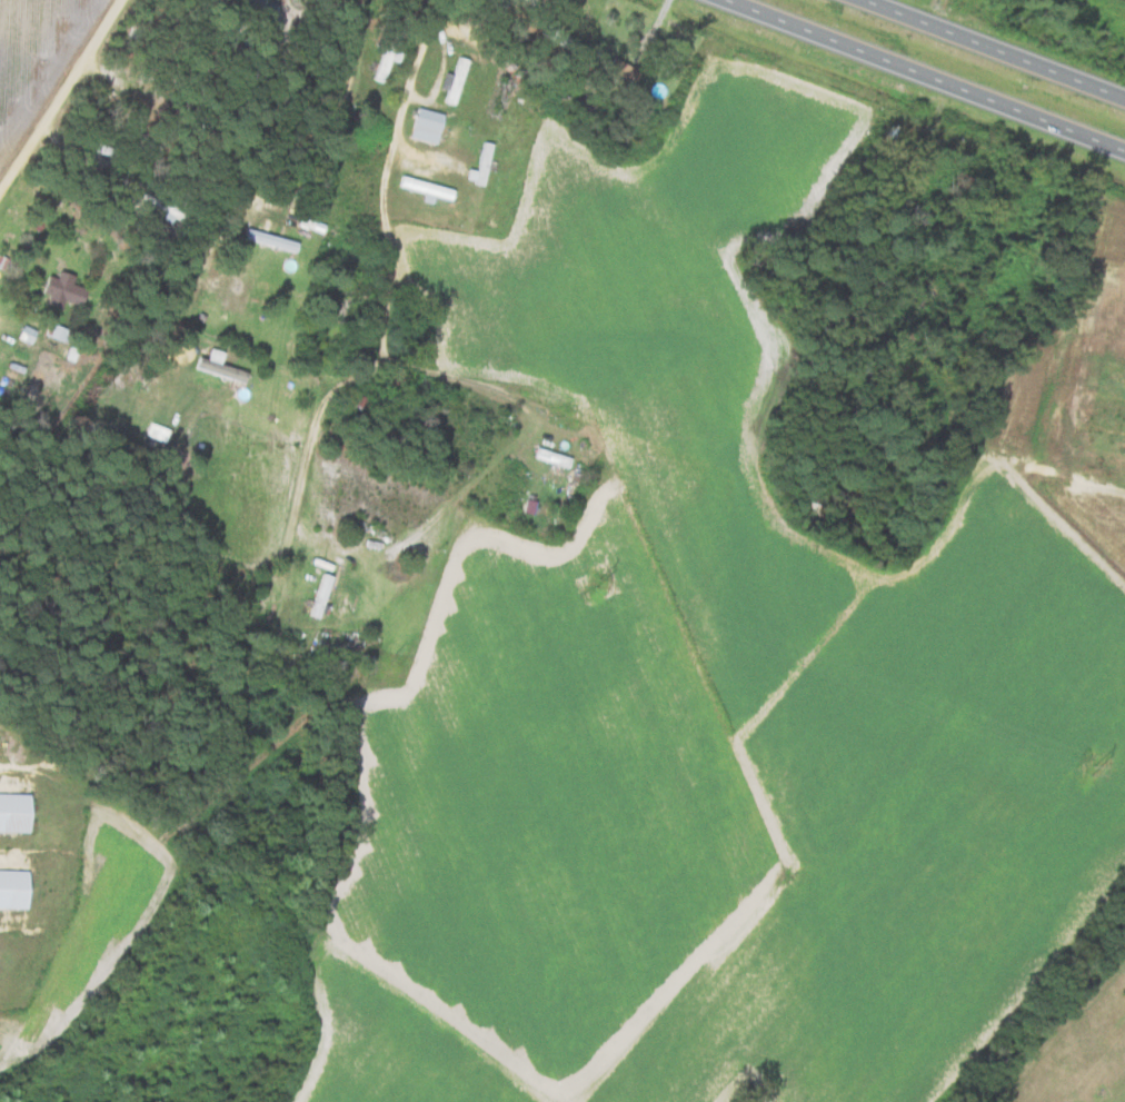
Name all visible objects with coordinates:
road: (546, 23)
road: (997, 48)
road: (926, 76)
building: (458, 78)
road: (56, 90)
building: (430, 123)
building: (431, 186)
road: (247, 229)
building: (276, 238)
building: (67, 288)
road: (388, 308)
building: (221, 364)
power tower: (94, 390)
building: (557, 456)
power tower: (597, 582)
building: (312, 596)
power tower: (1094, 771)
building: (12, 811)
building: (11, 885)

